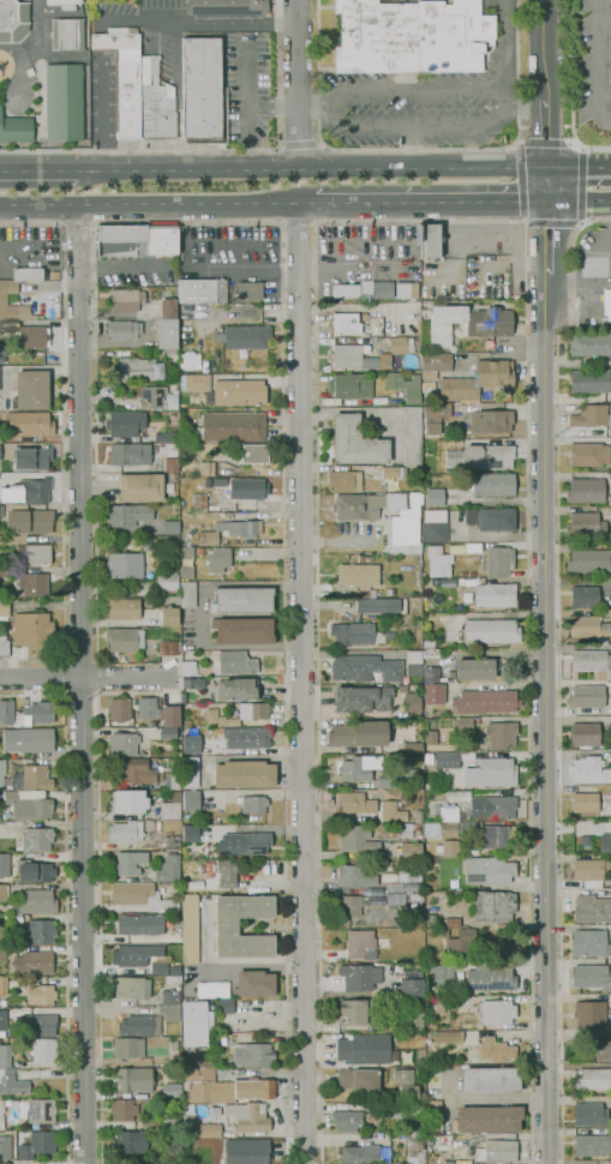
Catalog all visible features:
building: (62, 2)
building: (227, 8)
road: (170, 19)
building: (13, 20)
road: (236, 28)
building: (67, 34)
building: (412, 36)
road: (503, 43)
road: (599, 62)
building: (124, 77)
road: (544, 82)
road: (298, 83)
road: (573, 90)
building: (202, 91)
road: (605, 91)
building: (64, 102)
building: (155, 102)
road: (245, 103)
road: (271, 106)
road: (316, 107)
road: (522, 108)
road: (102, 118)
road: (610, 122)
road: (334, 125)
building: (14, 130)
road: (298, 145)
road: (413, 145)
road: (211, 149)
road: (417, 149)
road: (579, 163)
traffic signals: (547, 164)
road: (357, 166)
road: (480, 166)
road: (187, 167)
road: (38, 169)
road: (549, 184)
road: (431, 204)
traffic signals: (551, 204)
road: (581, 204)
road: (156, 208)
road: (526, 221)
road: (108, 222)
road: (298, 222)
road: (77, 223)
building: (121, 232)
building: (161, 238)
road: (550, 239)
building: (430, 240)
building: (120, 247)
road: (599, 251)
building: (26, 272)
road: (580, 280)
building: (382, 288)
building: (366, 289)
building: (407, 289)
building: (197, 290)
building: (221, 290)
building: (250, 290)
building: (346, 290)
building: (4, 299)
building: (125, 300)
building: (606, 302)
building: (168, 308)
building: (346, 323)
building: (463, 324)
building: (124, 329)
building: (166, 332)
building: (244, 336)
building: (34, 337)
building: (397, 344)
building: (591, 344)
building: (2, 352)
building: (169, 354)
building: (353, 356)
building: (435, 364)
building: (140, 370)
building: (478, 380)
building: (589, 380)
building: (349, 385)
building: (405, 385)
building: (429, 386)
building: (31, 389)
building: (226, 389)
building: (156, 398)
building: (591, 415)
building: (436, 416)
building: (491, 420)
building: (124, 422)
building: (26, 424)
building: (232, 426)
building: (413, 436)
building: (166, 437)
building: (355, 442)
road: (62, 444)
building: (0, 451)
building: (130, 454)
building: (252, 454)
building: (589, 454)
building: (481, 456)
building: (32, 458)
building: (170, 464)
building: (206, 467)
building: (394, 472)
building: (220, 481)
building: (345, 481)
building: (493, 484)
building: (140, 487)
building: (247, 488)
building: (28, 491)
building: (586, 491)
building: (435, 497)
building: (199, 502)
building: (367, 504)
building: (127, 514)
building: (490, 518)
building: (28, 520)
building: (585, 524)
building: (435, 526)
building: (170, 527)
building: (405, 528)
building: (232, 530)
building: (12, 539)
building: (146, 542)
building: (199, 551)
building: (32, 553)
building: (186, 553)
building: (217, 559)
building: (589, 560)
building: (438, 562)
building: (498, 562)
building: (124, 565)
building: (4, 570)
building: (463, 574)
building: (472, 574)
building: (358, 575)
building: (419, 576)
building: (167, 578)
building: (34, 583)
building: (145, 588)
building: (187, 593)
building: (372, 593)
building: (491, 594)
building: (583, 596)
building: (242, 600)
building: (379, 605)
building: (418, 605)
building: (124, 607)
building: (4, 608)
building: (168, 616)
building: (31, 628)
building: (589, 628)
building: (242, 630)
building: (491, 631)
building: (358, 634)
building: (439, 635)
building: (124, 638)
road: (527, 638)
road: (316, 641)
building: (429, 644)
building: (4, 646)
building: (169, 647)
building: (431, 654)
building: (235, 662)
building: (414, 662)
building: (592, 662)
road: (97, 664)
building: (190, 667)
building: (365, 668)
building: (474, 668)
road: (558, 671)
building: (432, 674)
road: (86, 677)
building: (193, 683)
road: (300, 685)
road: (83, 686)
building: (403, 686)
building: (236, 689)
road: (31, 692)
building: (433, 692)
building: (587, 696)
building: (182, 697)
building: (363, 697)
building: (485, 701)
building: (412, 702)
building: (148, 708)
building: (119, 709)
building: (6, 712)
building: (253, 712)
building: (425, 712)
building: (38, 713)
building: (170, 715)
road: (546, 719)
building: (186, 722)
building: (463, 722)
building: (168, 732)
building: (359, 733)
building: (585, 733)
building: (502, 734)
building: (245, 737)
building: (29, 739)
building: (124, 744)
building: (191, 744)
building: (412, 748)
building: (427, 757)
building: (480, 768)
building: (354, 769)
building: (134, 770)
building: (588, 770)
building: (190, 772)
building: (1, 774)
building: (244, 774)
building: (35, 778)
building: (173, 780)
building: (385, 784)
building: (459, 796)
building: (188, 800)
building: (127, 802)
building: (585, 802)
building: (252, 803)
building: (28, 806)
building: (170, 806)
building: (370, 806)
building: (493, 806)
building: (447, 812)
building: (468, 824)
building: (441, 829)
building: (125, 832)
building: (191, 833)
building: (395, 836)
building: (498, 836)
building: (37, 839)
building: (172, 841)
building: (605, 841)
building: (244, 844)
building: (450, 847)
building: (411, 851)
building: (130, 862)
building: (610, 864)
building: (4, 865)
building: (387, 865)
building: (168, 868)
building: (489, 870)
building: (591, 871)
building: (36, 872)
building: (227, 872)
building: (354, 876)
building: (407, 876)
building: (394, 887)
building: (2, 892)
building: (142, 895)
building: (419, 895)
building: (395, 899)
building: (36, 901)
building: (352, 904)
building: (493, 905)
building: (592, 908)
building: (12, 918)
building: (433, 922)
building: (454, 923)
building: (140, 924)
road: (66, 926)
building: (226, 926)
building: (190, 929)
building: (38, 931)
building: (462, 941)
building: (589, 942)
building: (364, 944)
building: (2, 954)
building: (134, 955)
building: (35, 962)
building: (167, 962)
building: (442, 973)
building: (360, 976)
building: (491, 977)
building: (592, 977)
building: (411, 983)
building: (2, 984)
building: (240, 985)
building: (130, 988)
building: (41, 995)
building: (170, 997)
building: (443, 1002)
building: (224, 1006)
building: (169, 1012)
building: (497, 1012)
building: (352, 1013)
building: (589, 1014)
building: (415, 1019)
building: (196, 1022)
building: (40, 1024)
building: (140, 1025)
building: (448, 1036)
building: (5, 1038)
building: (222, 1038)
building: (128, 1046)
building: (603, 1048)
building: (44, 1049)
building: (364, 1049)
building: (495, 1050)
building: (253, 1054)
building: (5, 1055)
building: (175, 1061)
building: (133, 1079)
building: (358, 1079)
building: (491, 1079)
building: (593, 1079)
building: (12, 1082)
building: (406, 1084)
building: (222, 1085)
building: (170, 1090)
building: (122, 1109)
building: (41, 1110)
building: (215, 1111)
building: (589, 1114)
building: (1, 1115)
building: (247, 1116)
building: (487, 1118)
building: (169, 1121)
building: (347, 1121)
building: (198, 1126)
building: (435, 1127)
building: (25, 1134)
building: (131, 1141)
building: (36, 1144)
building: (592, 1145)
building: (5, 1147)
building: (414, 1150)
building: (247, 1151)
building: (497, 1151)
building: (365, 1153)
road: (85, 1160)
road: (67, 1163)

